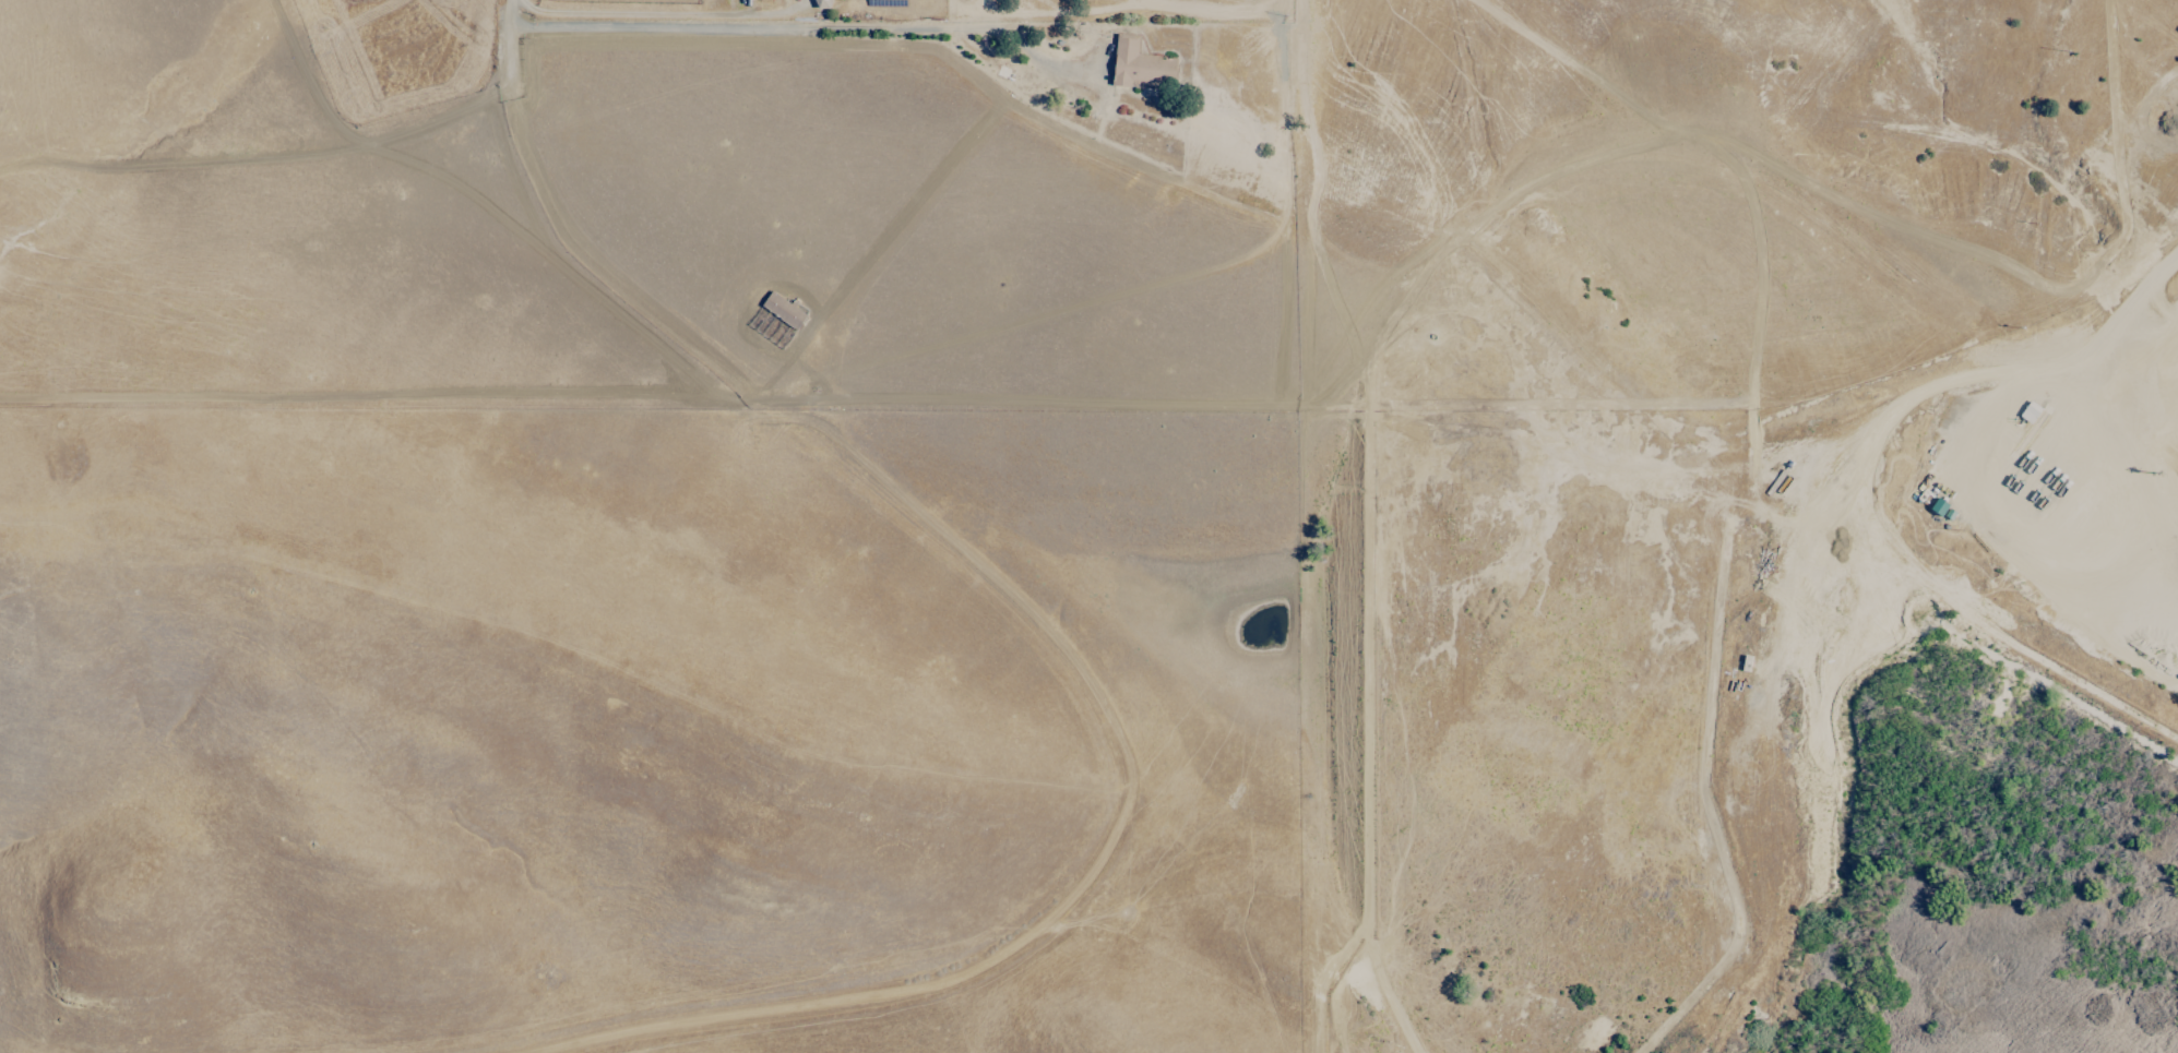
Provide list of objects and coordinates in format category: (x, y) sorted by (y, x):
building: (822, 3)
road: (510, 14)
road: (636, 15)
road: (820, 29)
building: (1140, 63)
building: (783, 309)
road: (2054, 380)
building: (2030, 411)
road: (1904, 557)
road: (2173, 573)

